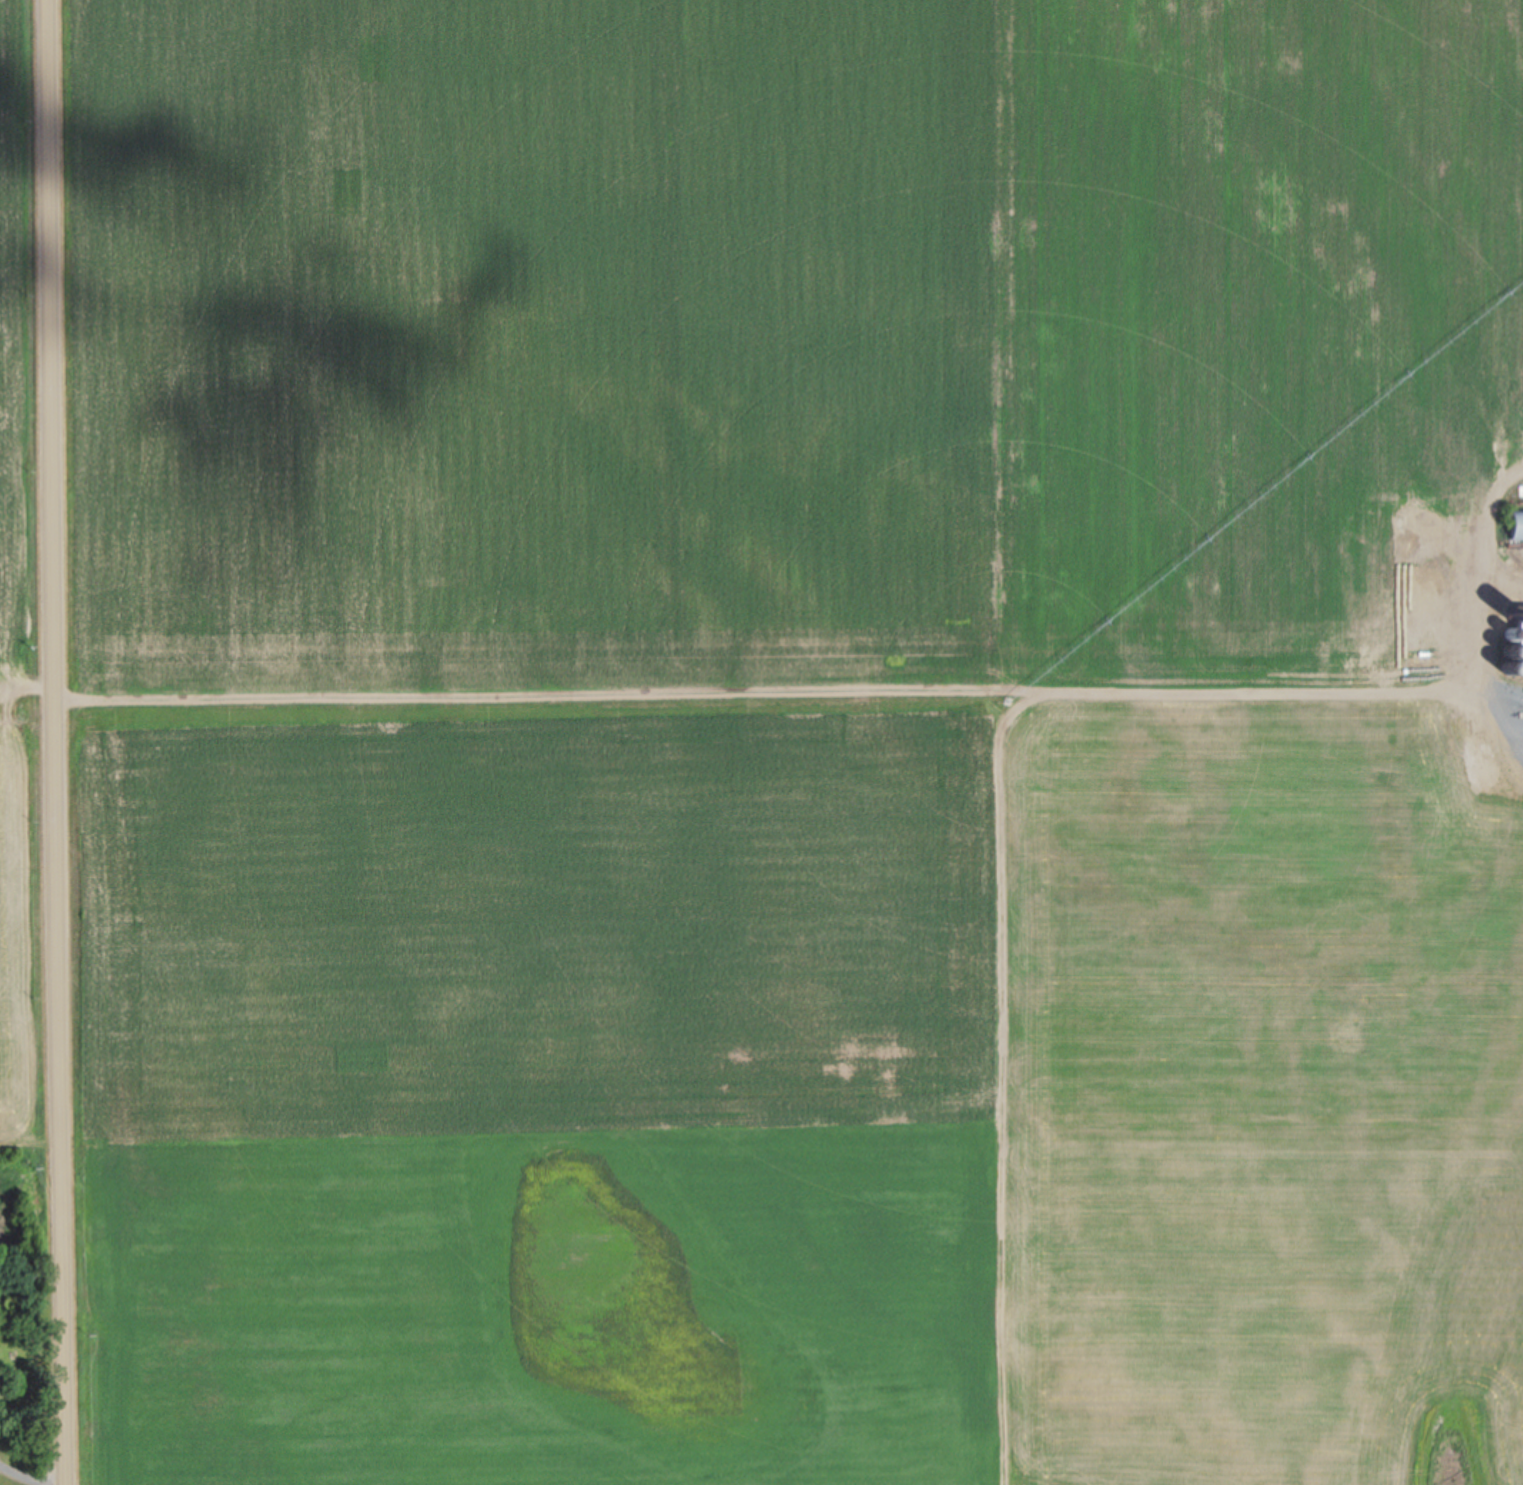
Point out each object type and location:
building: (1517, 523)
building: (1522, 636)
road: (57, 742)
road: (33, 1476)

